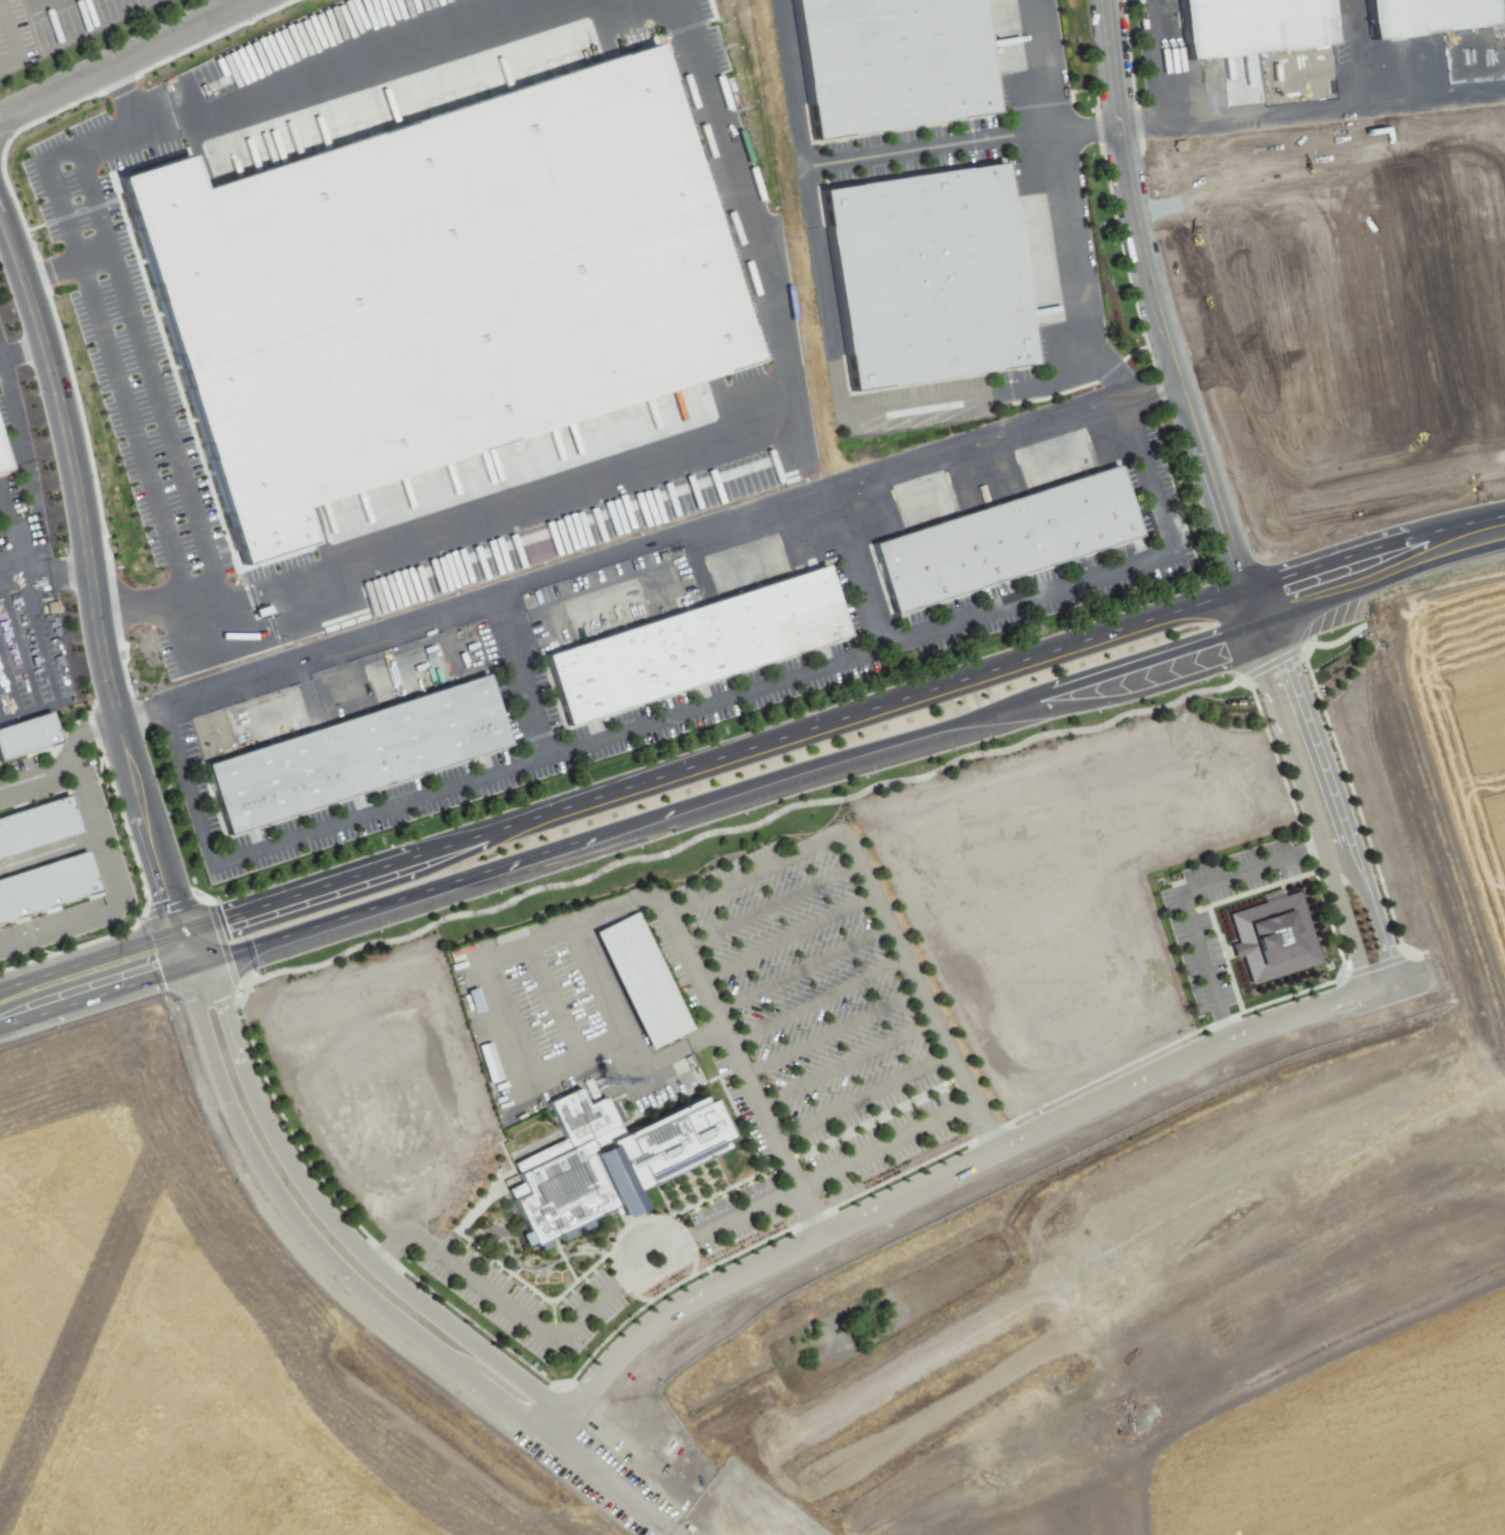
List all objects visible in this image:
road: (10, 5)
building: (1424, 13)
building: (1241, 23)
road: (1350, 52)
road: (127, 60)
building: (894, 64)
road: (358, 74)
road: (1273, 114)
road: (1086, 127)
road: (67, 148)
road: (926, 148)
building: (929, 281)
building: (433, 289)
road: (1155, 299)
road: (21, 351)
road: (943, 401)
road: (138, 448)
road: (678, 458)
road: (22, 469)
building: (1, 472)
road: (1471, 523)
building: (1000, 538)
road: (1423, 538)
road: (649, 549)
road: (1340, 560)
road: (854, 561)
road: (92, 577)
road: (45, 579)
road: (1379, 579)
road: (1329, 583)
road: (1249, 608)
building: (688, 640)
road: (1264, 645)
road: (518, 678)
road: (1115, 699)
road: (692, 709)
road: (85, 729)
building: (28, 740)
crop: (1444, 741)
building: (349, 752)
road: (1275, 759)
road: (712, 760)
road: (32, 769)
road: (721, 794)
road: (1331, 825)
building: (37, 826)
road: (745, 827)
road: (45, 854)
road: (775, 861)
building: (46, 885)
road: (107, 889)
road: (1183, 890)
road: (1207, 905)
road: (770, 907)
building: (1275, 937)
road: (785, 938)
traffic signals: (188, 943)
parking lot: (1198, 952)
road: (200, 959)
road: (800, 970)
road: (94, 971)
road: (1336, 974)
building: (640, 981)
road: (602, 993)
road: (815, 1001)
road: (830, 1033)
road: (845, 1064)
road: (1107, 1074)
road: (862, 1098)
building: (581, 1114)
road: (876, 1117)
road: (283, 1121)
road: (740, 1123)
building: (672, 1139)
road: (884, 1145)
road: (951, 1170)
road: (903, 1173)
building: (619, 1178)
building: (564, 1190)
road: (720, 1191)
road: (807, 1211)
road: (630, 1220)
road: (336, 1228)
road: (302, 1233)
road: (563, 1258)
road: (693, 1258)
road: (525, 1270)
road: (535, 1293)
road: (632, 1294)
road: (572, 1320)
airport: (205, 1339)
road: (589, 1355)
crop: (1362, 1448)

